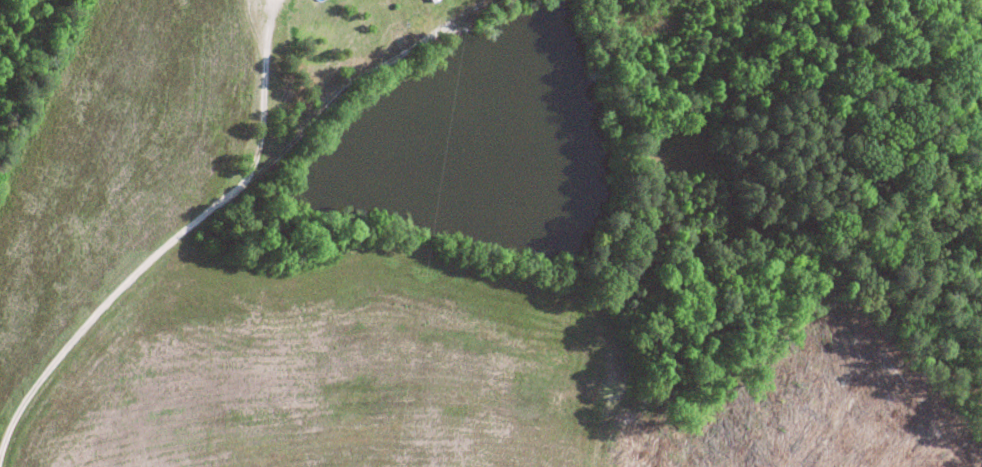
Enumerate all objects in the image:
road: (199, 220)

